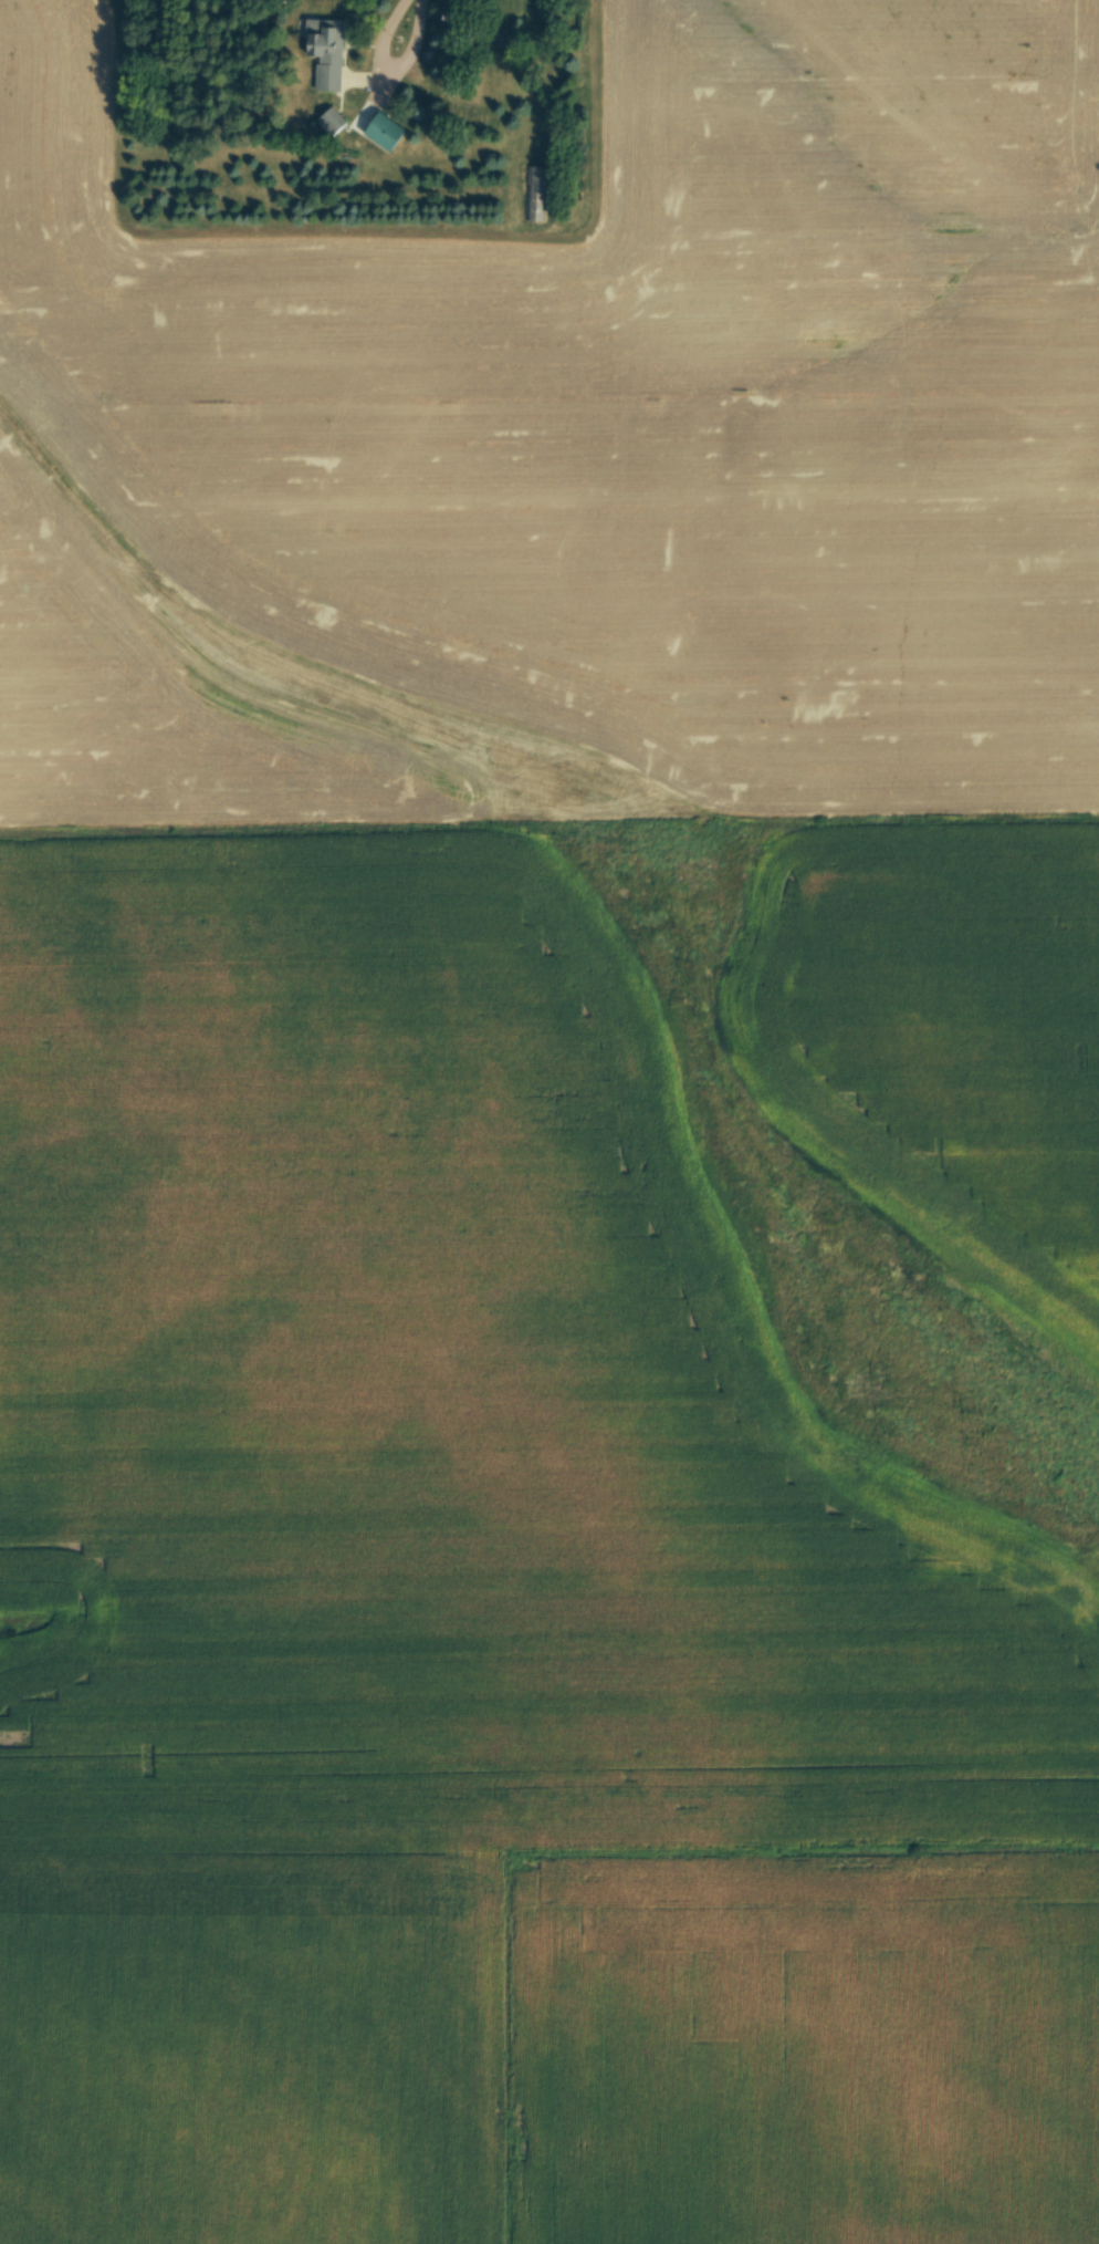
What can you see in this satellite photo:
building: (325, 51)
road: (397, 63)
building: (386, 131)
building: (534, 194)

